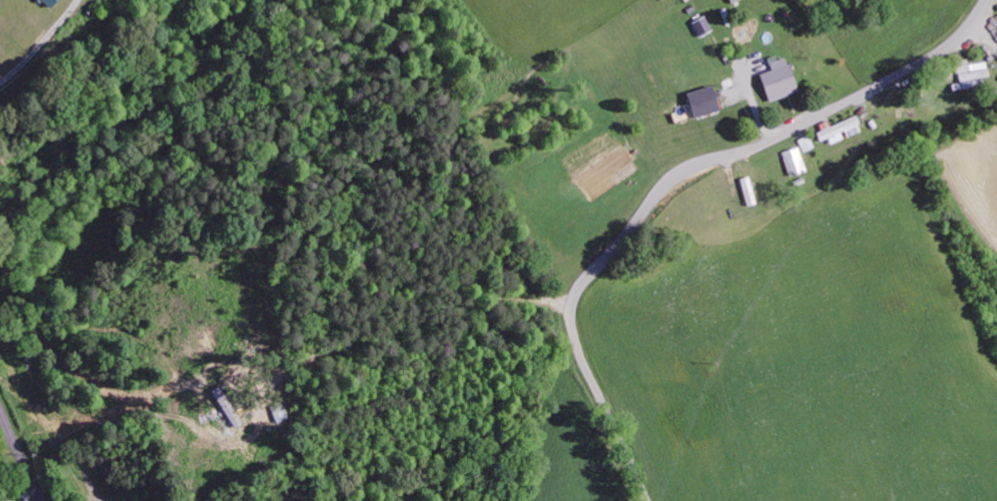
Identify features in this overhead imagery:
building: (47, 3)
building: (699, 28)
building: (969, 76)
building: (775, 83)
building: (702, 104)
building: (836, 132)
building: (791, 163)
road: (670, 180)
building: (746, 193)
building: (278, 415)
road: (19, 456)

